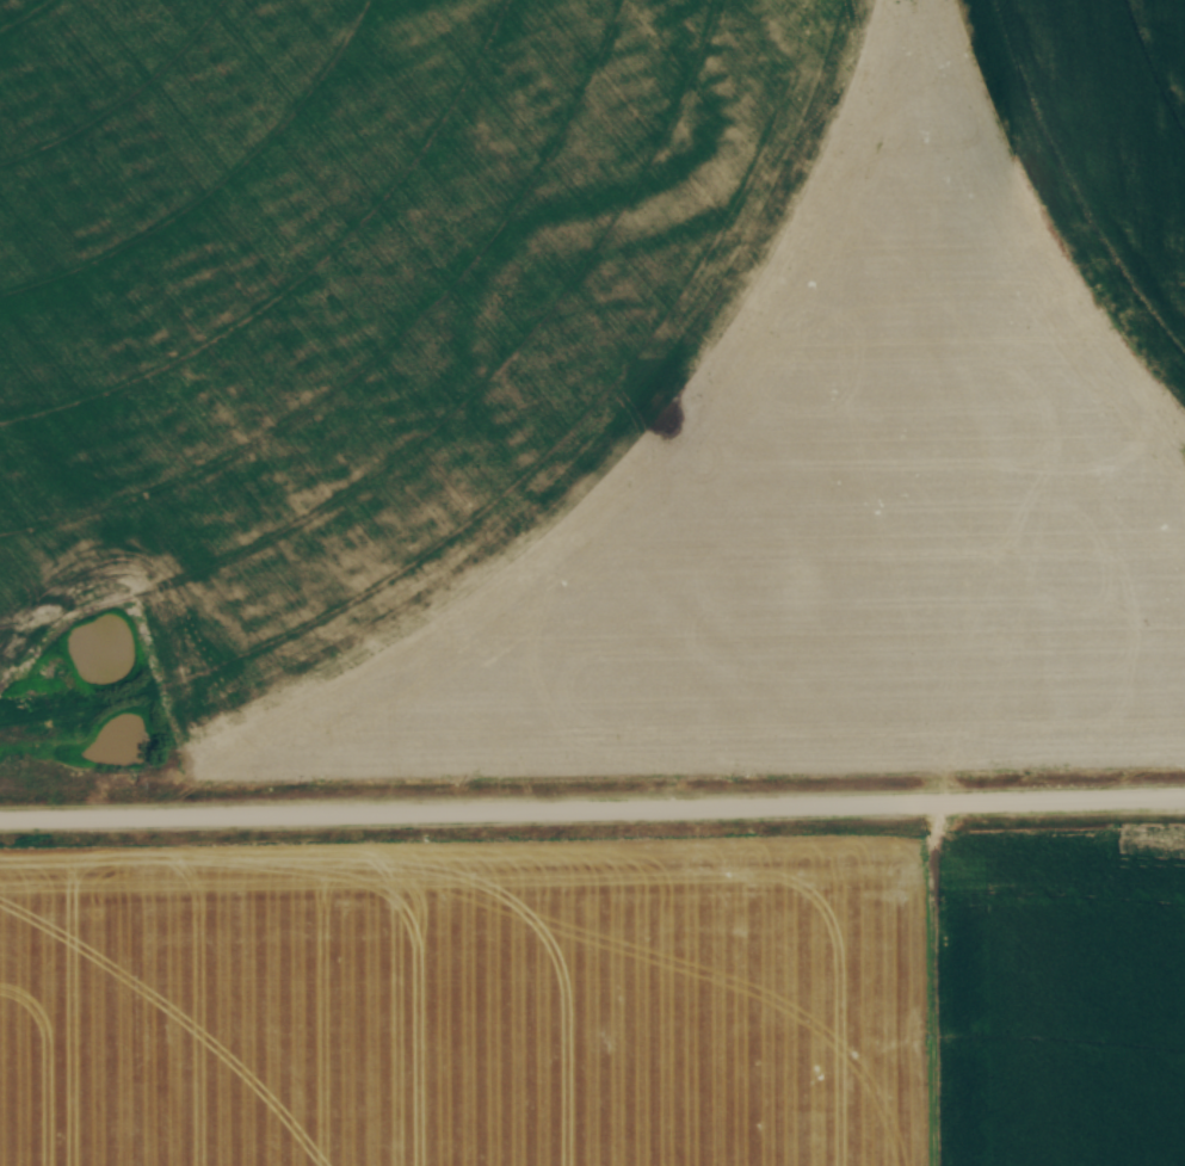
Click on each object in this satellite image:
road: (592, 814)

